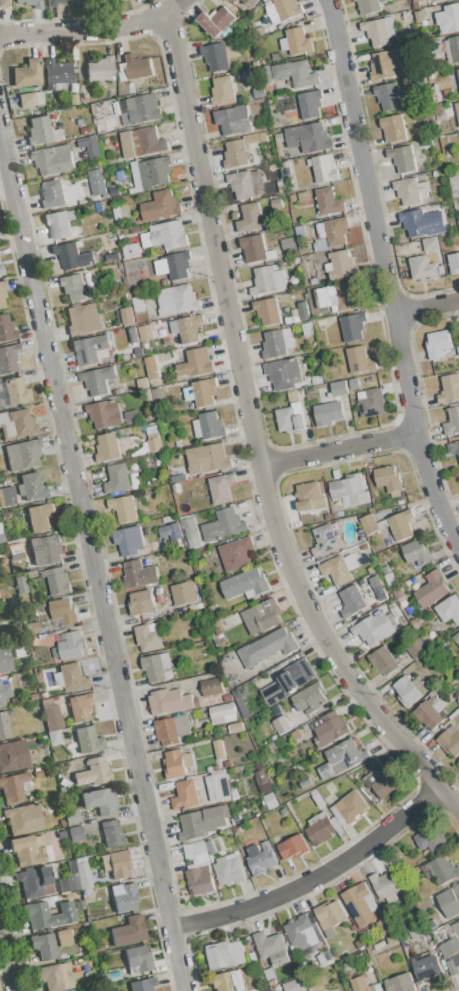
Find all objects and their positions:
building: (119, 0)
building: (122, 1)
building: (417, 1)
building: (4, 3)
building: (32, 3)
building: (54, 3)
building: (253, 3)
building: (370, 5)
building: (287, 8)
building: (420, 16)
building: (452, 16)
building: (405, 17)
building: (217, 21)
building: (390, 27)
road: (94, 31)
building: (379, 32)
building: (298, 41)
building: (455, 47)
building: (218, 57)
building: (382, 65)
building: (138, 66)
building: (101, 69)
building: (458, 70)
building: (28, 73)
building: (300, 73)
building: (57, 75)
building: (224, 90)
building: (388, 95)
building: (30, 99)
building: (74, 100)
building: (311, 104)
building: (139, 109)
building: (439, 111)
building: (457, 111)
building: (234, 120)
building: (108, 124)
building: (393, 128)
building: (42, 131)
building: (318, 137)
building: (251, 139)
building: (142, 142)
building: (90, 145)
building: (447, 151)
building: (235, 154)
building: (283, 155)
road: (361, 155)
building: (403, 158)
building: (53, 159)
building: (324, 167)
building: (154, 171)
building: (96, 181)
building: (453, 181)
building: (243, 183)
building: (410, 191)
building: (53, 195)
building: (304, 196)
building: (329, 201)
building: (276, 203)
building: (160, 205)
building: (249, 217)
building: (416, 222)
building: (58, 225)
building: (299, 230)
building: (337, 230)
building: (165, 235)
building: (287, 242)
building: (429, 243)
building: (323, 245)
building: (255, 248)
building: (131, 251)
building: (74, 256)
building: (115, 256)
building: (454, 263)
building: (341, 264)
building: (174, 265)
building: (422, 268)
building: (1, 270)
building: (268, 279)
building: (72, 288)
building: (3, 294)
building: (335, 295)
building: (174, 300)
building: (139, 303)
road: (427, 305)
building: (304, 310)
building: (267, 311)
building: (127, 315)
building: (83, 319)
building: (6, 328)
building: (351, 328)
building: (188, 329)
building: (307, 329)
building: (145, 331)
building: (458, 332)
building: (277, 342)
building: (437, 344)
building: (91, 349)
building: (8, 359)
building: (357, 359)
building: (199, 361)
building: (150, 366)
building: (283, 372)
road: (406, 372)
building: (98, 379)
building: (142, 383)
building: (354, 383)
building: (0, 385)
building: (339, 388)
building: (449, 388)
building: (16, 392)
building: (204, 392)
building: (158, 398)
building: (371, 402)
building: (328, 412)
building: (105, 416)
building: (291, 417)
building: (452, 421)
building: (17, 424)
building: (211, 425)
road: (254, 438)
building: (155, 445)
building: (107, 447)
building: (454, 447)
road: (337, 449)
building: (24, 455)
building: (207, 458)
building: (117, 479)
building: (389, 479)
building: (34, 488)
building: (221, 488)
building: (349, 490)
road: (433, 493)
building: (308, 497)
building: (3, 498)
building: (125, 510)
building: (39, 518)
building: (369, 524)
building: (401, 524)
building: (224, 526)
building: (171, 530)
building: (191, 533)
building: (129, 539)
building: (326, 540)
building: (17, 548)
building: (46, 550)
building: (417, 552)
building: (236, 553)
road: (93, 565)
building: (339, 568)
building: (138, 574)
building: (59, 582)
building: (245, 583)
building: (21, 585)
building: (378, 587)
building: (431, 588)
building: (183, 592)
building: (398, 593)
building: (353, 599)
building: (141, 602)
building: (62, 609)
building: (449, 609)
building: (395, 611)
building: (262, 616)
building: (33, 629)
building: (374, 629)
building: (150, 636)
building: (456, 638)
building: (70, 645)
building: (268, 647)
building: (417, 649)
building: (383, 660)
building: (5, 662)
building: (157, 667)
building: (72, 678)
building: (286, 681)
building: (213, 687)
building: (408, 690)
building: (4, 692)
building: (310, 698)
building: (171, 700)
building: (46, 703)
building: (241, 703)
building: (81, 707)
building: (223, 713)
building: (428, 714)
building: (52, 718)
building: (280, 724)
building: (4, 726)
building: (237, 727)
building: (329, 728)
building: (172, 729)
building: (54, 738)
building: (451, 739)
building: (89, 740)
building: (218, 749)
building: (345, 755)
building: (13, 756)
building: (458, 762)
building: (177, 763)
building: (94, 772)
building: (261, 776)
building: (382, 781)
building: (305, 782)
building: (15, 787)
building: (218, 787)
building: (184, 795)
building: (101, 800)
building: (271, 800)
building: (351, 805)
building: (72, 816)
building: (25, 819)
building: (192, 826)
building: (319, 829)
building: (76, 834)
building: (112, 834)
building: (430, 839)
building: (293, 846)
building: (211, 847)
building: (29, 849)
building: (196, 853)
building: (260, 857)
building: (117, 864)
building: (443, 869)
building: (229, 870)
building: (76, 877)
road: (317, 877)
building: (201, 880)
building: (36, 882)
building: (386, 884)
building: (124, 897)
building: (450, 901)
building: (360, 905)
building: (38, 915)
building: (330, 916)
building: (58, 922)
building: (456, 927)
building: (129, 932)
building: (302, 934)
building: (64, 938)
building: (44, 946)
building: (271, 948)
building: (448, 949)
road: (8, 953)
building: (223, 954)
building: (324, 959)
building: (137, 961)
building: (453, 966)
building: (427, 967)
building: (270, 973)
building: (58, 977)
building: (221, 982)
building: (400, 983)
building: (362, 984)
building: (143, 985)
building: (294, 985)
building: (334, 990)

